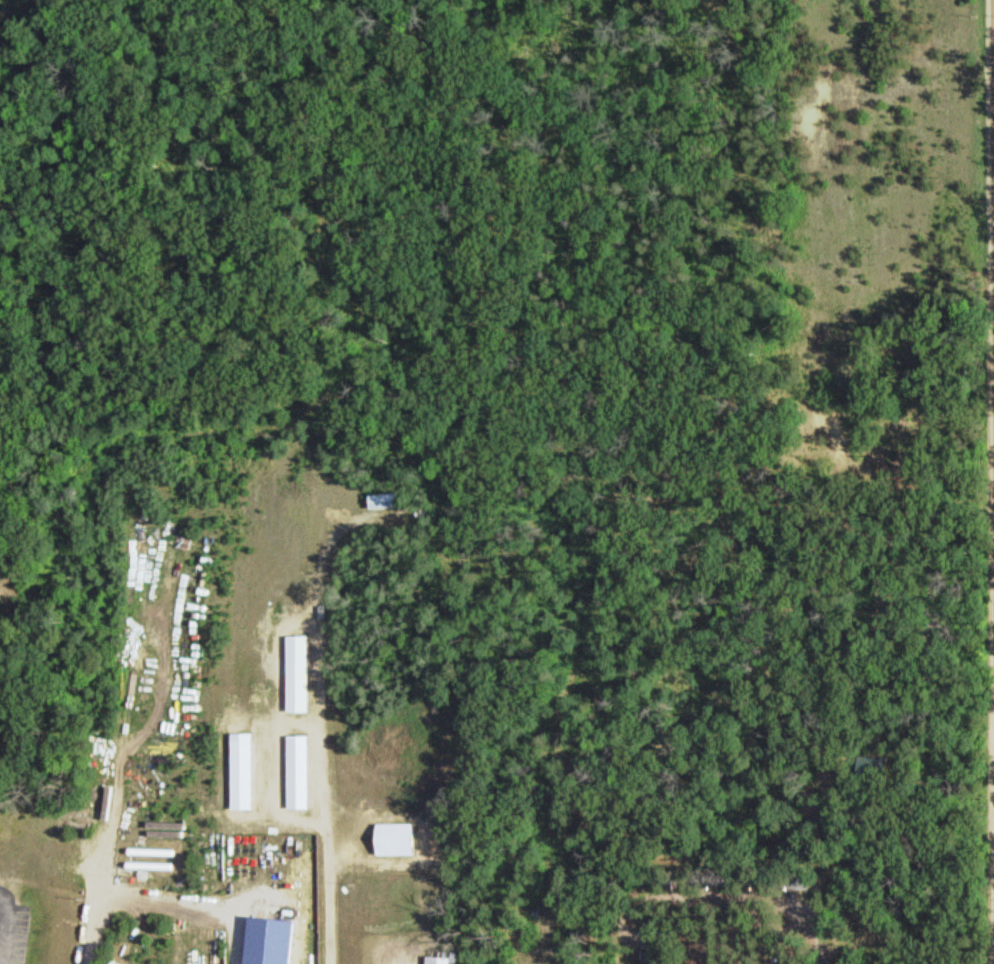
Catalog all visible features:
building: (388, 500)
building: (300, 673)
building: (245, 770)
building: (301, 771)
building: (399, 838)
road: (6, 926)
parking lot: (20, 933)
building: (853, 934)
building: (441, 959)

